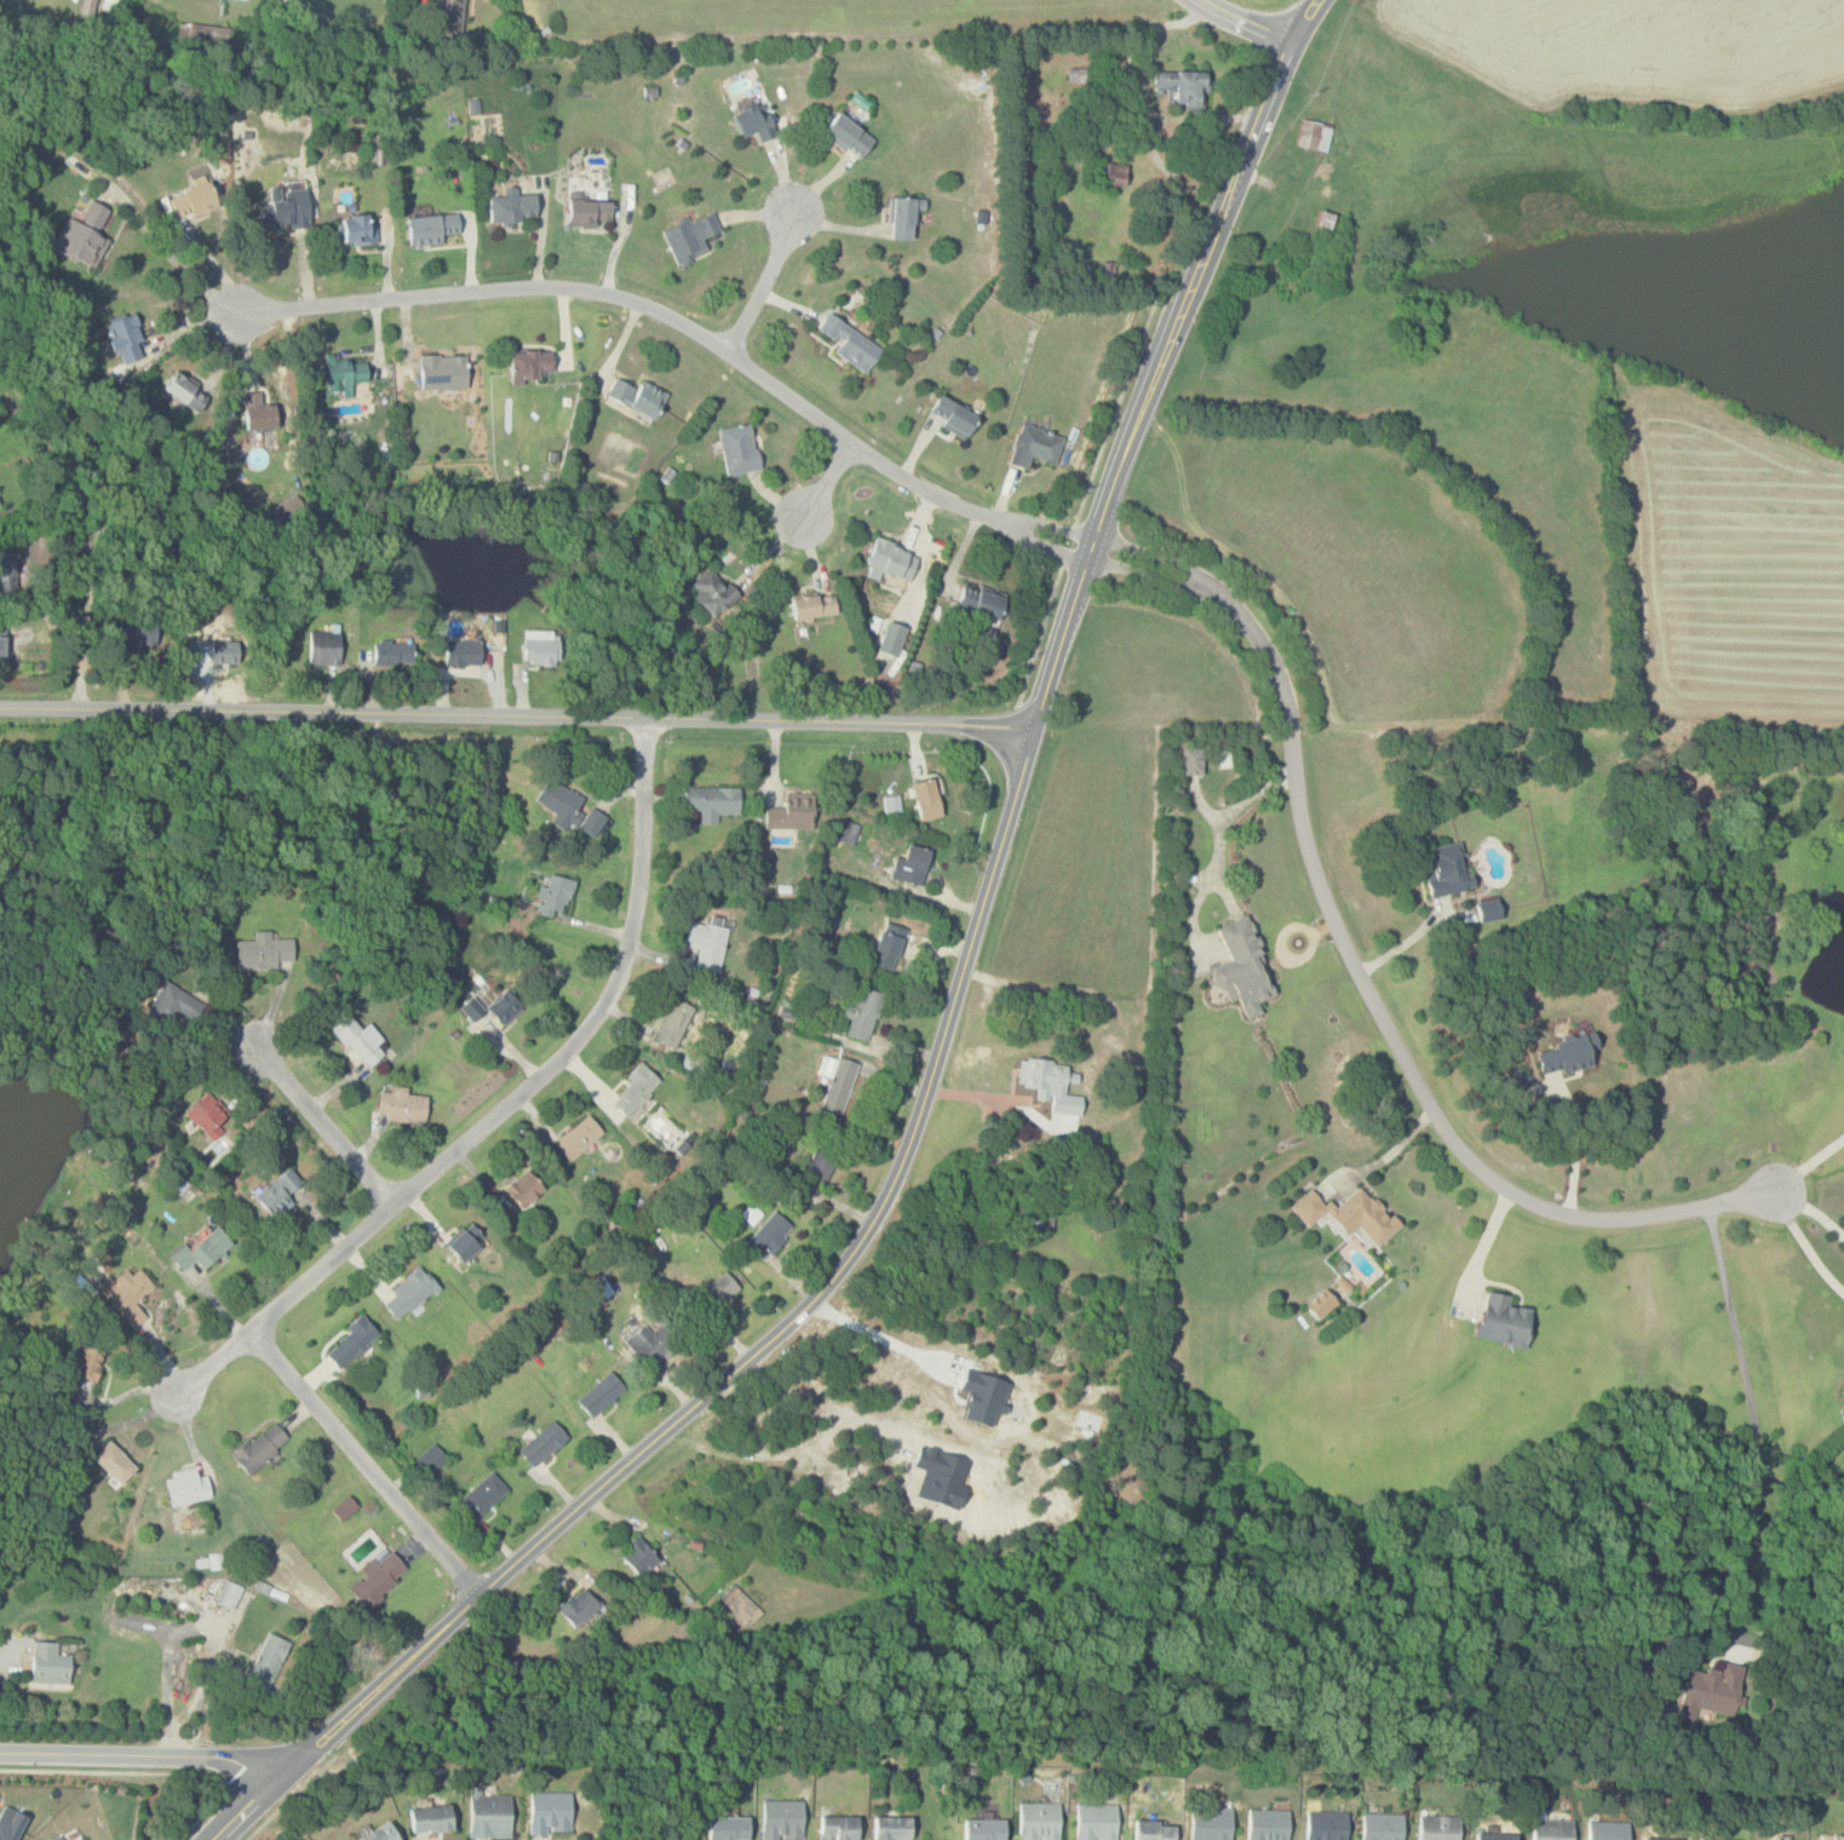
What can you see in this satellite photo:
building: (87, 8)
building: (453, 15)
road: (1305, 19)
road: (1247, 22)
crop: (1627, 46)
building: (1180, 86)
building: (754, 121)
road: (1258, 125)
building: (1312, 134)
building: (846, 136)
building: (1115, 173)
building: (191, 200)
building: (511, 207)
building: (587, 208)
building: (283, 211)
building: (901, 218)
building: (1325, 219)
building: (431, 228)
building: (357, 229)
building: (689, 236)
building: (81, 237)
road: (174, 255)
road: (766, 281)
road: (689, 326)
building: (126, 338)
building: (849, 343)
building: (530, 363)
building: (442, 372)
building: (346, 373)
building: (183, 393)
building: (637, 396)
road: (1115, 412)
building: (259, 416)
building: (953, 416)
building: (1033, 444)
building: (739, 448)
road: (827, 483)
building: (0, 506)
building: (286, 507)
building: (0, 514)
road: (100, 519)
crop: (1721, 552)
building: (889, 560)
building: (7, 571)
building: (708, 592)
building: (980, 600)
building: (812, 605)
road: (1040, 633)
building: (134, 636)
building: (891, 638)
building: (2, 640)
building: (322, 646)
building: (540, 650)
building: (392, 652)
building: (461, 652)
building: (224, 655)
road: (517, 715)
building: (1190, 761)
building: (925, 799)
building: (561, 801)
building: (711, 801)
building: (791, 813)
building: (591, 821)
building: (844, 832)
road: (1217, 852)
building: (909, 864)
building: (1444, 870)
building: (553, 893)
building: (1489, 910)
road: (1408, 942)
building: (703, 944)
building: (886, 947)
building: (263, 951)
building: (1242, 968)
road: (1357, 971)
building: (502, 1007)
building: (171, 1008)
building: (472, 1008)
building: (862, 1014)
building: (672, 1023)
building: (355, 1040)
building: (1566, 1056)
building: (1041, 1076)
building: (838, 1086)
building: (633, 1091)
building: (401, 1105)
road: (502, 1108)
road: (921, 1108)
building: (207, 1115)
road: (327, 1125)
building: (576, 1138)
road: (1576, 1143)
road: (1390, 1155)
building: (818, 1161)
road: (1810, 1162)
building: (523, 1189)
building: (276, 1195)
road: (1814, 1211)
building: (1348, 1214)
building: (1034, 1219)
building: (769, 1234)
road: (1806, 1244)
building: (461, 1246)
building: (201, 1248)
building: (407, 1293)
building: (716, 1293)
building: (128, 1296)
building: (1322, 1303)
building: (1504, 1321)
road: (890, 1329)
building: (653, 1340)
building: (350, 1341)
building: (87, 1363)
building: (1843, 1391)
building: (599, 1393)
building: (984, 1397)
road: (1754, 1424)
building: (541, 1443)
building: (258, 1447)
building: (431, 1459)
road: (368, 1460)
building: (113, 1462)
building: (184, 1487)
building: (481, 1496)
building: (344, 1507)
building: (639, 1558)
building: (381, 1572)
building: (226, 1595)
building: (740, 1605)
building: (579, 1608)
building: (265, 1662)
building: (46, 1664)
road: (165, 1680)
building: (1710, 1691)
road: (139, 1754)
road: (113, 1772)
road: (245, 1812)
building: (550, 1813)
road: (202, 1815)
building: (488, 1815)
building: (431, 1819)
building: (781, 1819)
building: (10, 1822)
building: (1038, 1822)
building: (1095, 1822)
building: (1210, 1823)
building: (1266, 1824)
road: (260, 1825)
building: (1325, 1825)
building: (1380, 1827)
building: (1436, 1827)
building: (726, 1828)
building: (838, 1828)
building: (891, 1828)
building: (1552, 1829)
building: (982, 1830)
building: (1154, 1830)
building: (1607, 1830)
building: (380, 1834)
building: (1494, 1836)
building: (57, 1838)
building: (1655, 1839)
building: (1702, 1839)

